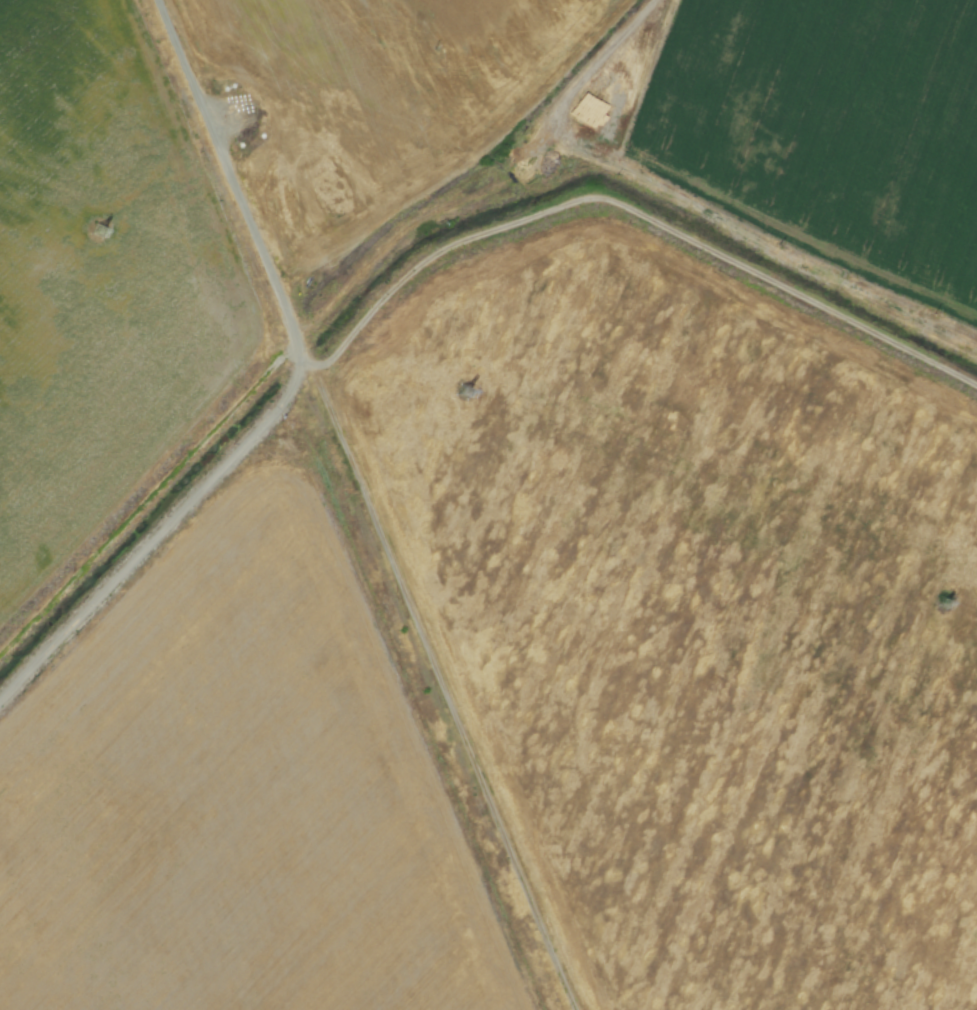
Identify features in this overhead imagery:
crop: (491, 24)
power tower: (99, 231)
road: (278, 373)
power tower: (483, 399)
power tower: (944, 604)

